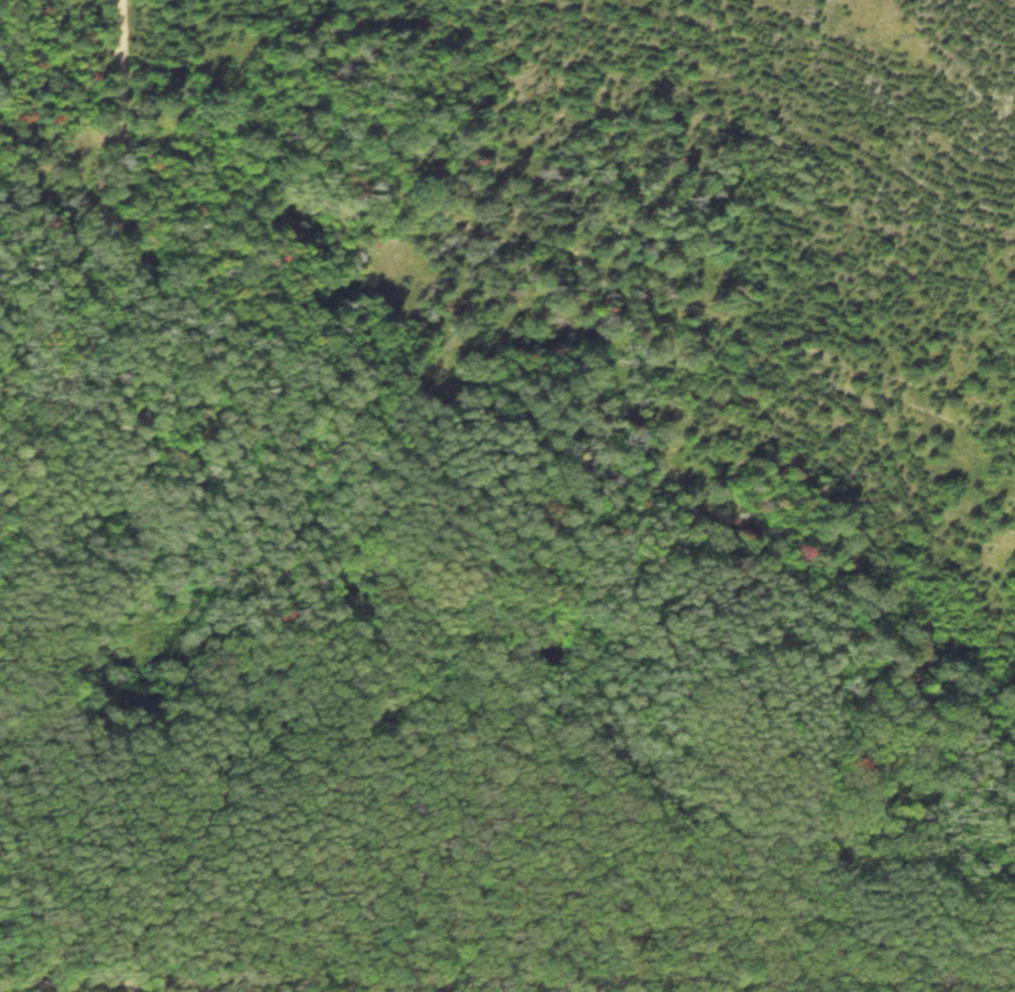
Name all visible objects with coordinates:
road: (113, 270)
road: (614, 591)
road: (507, 979)
road: (200, 987)

